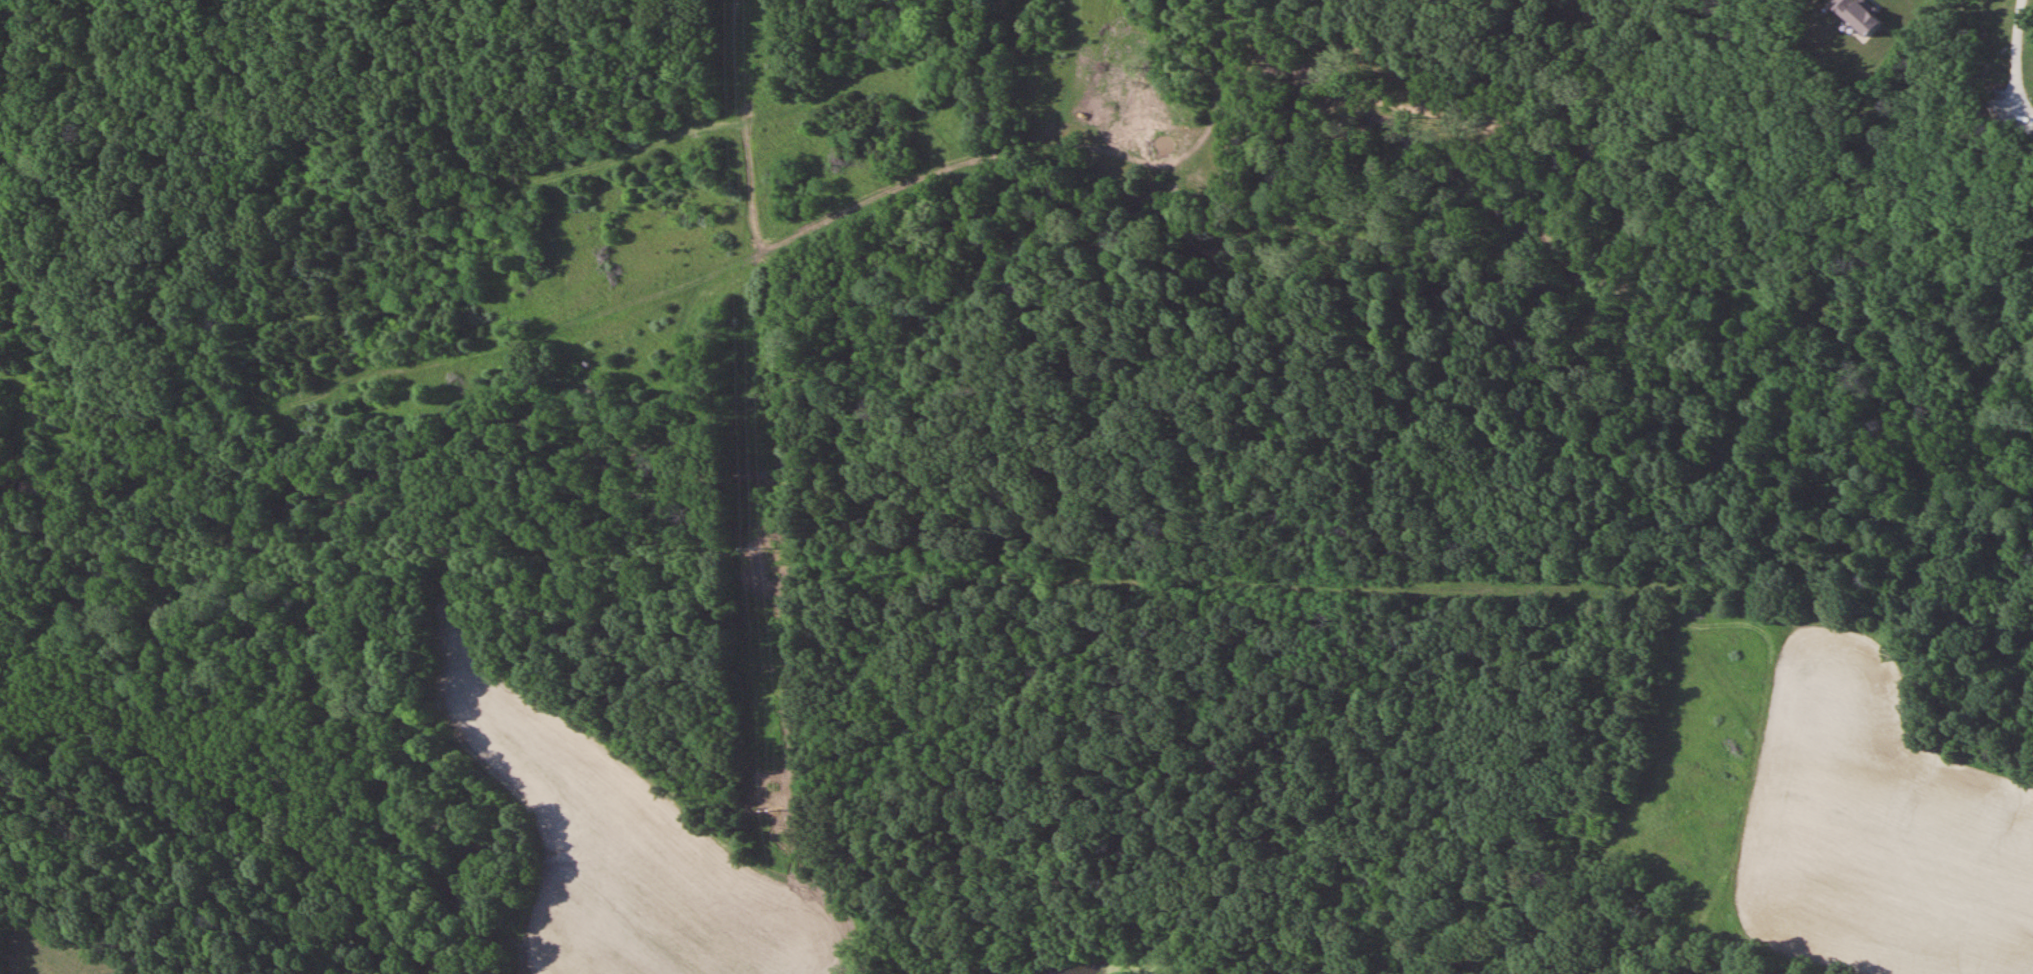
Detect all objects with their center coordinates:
building: (1859, 15)
road: (2017, 59)
power tower: (753, 547)
power tower: (766, 806)

